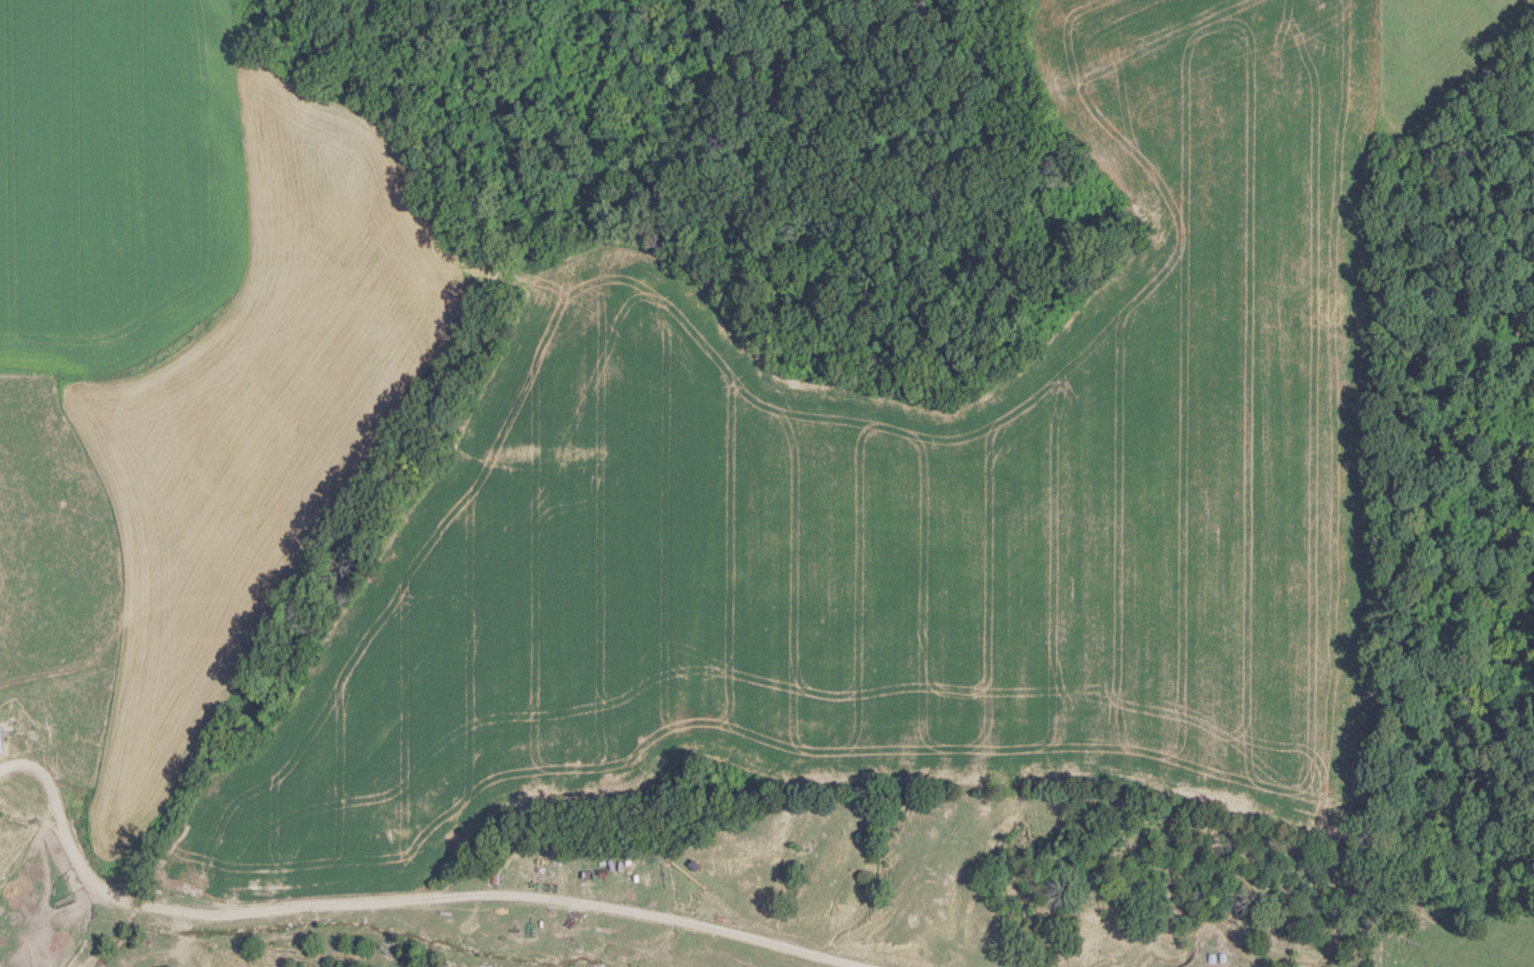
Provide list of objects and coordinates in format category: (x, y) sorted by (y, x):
road: (399, 898)
building: (1211, 955)
building: (1222, 955)
building: (173, 966)

